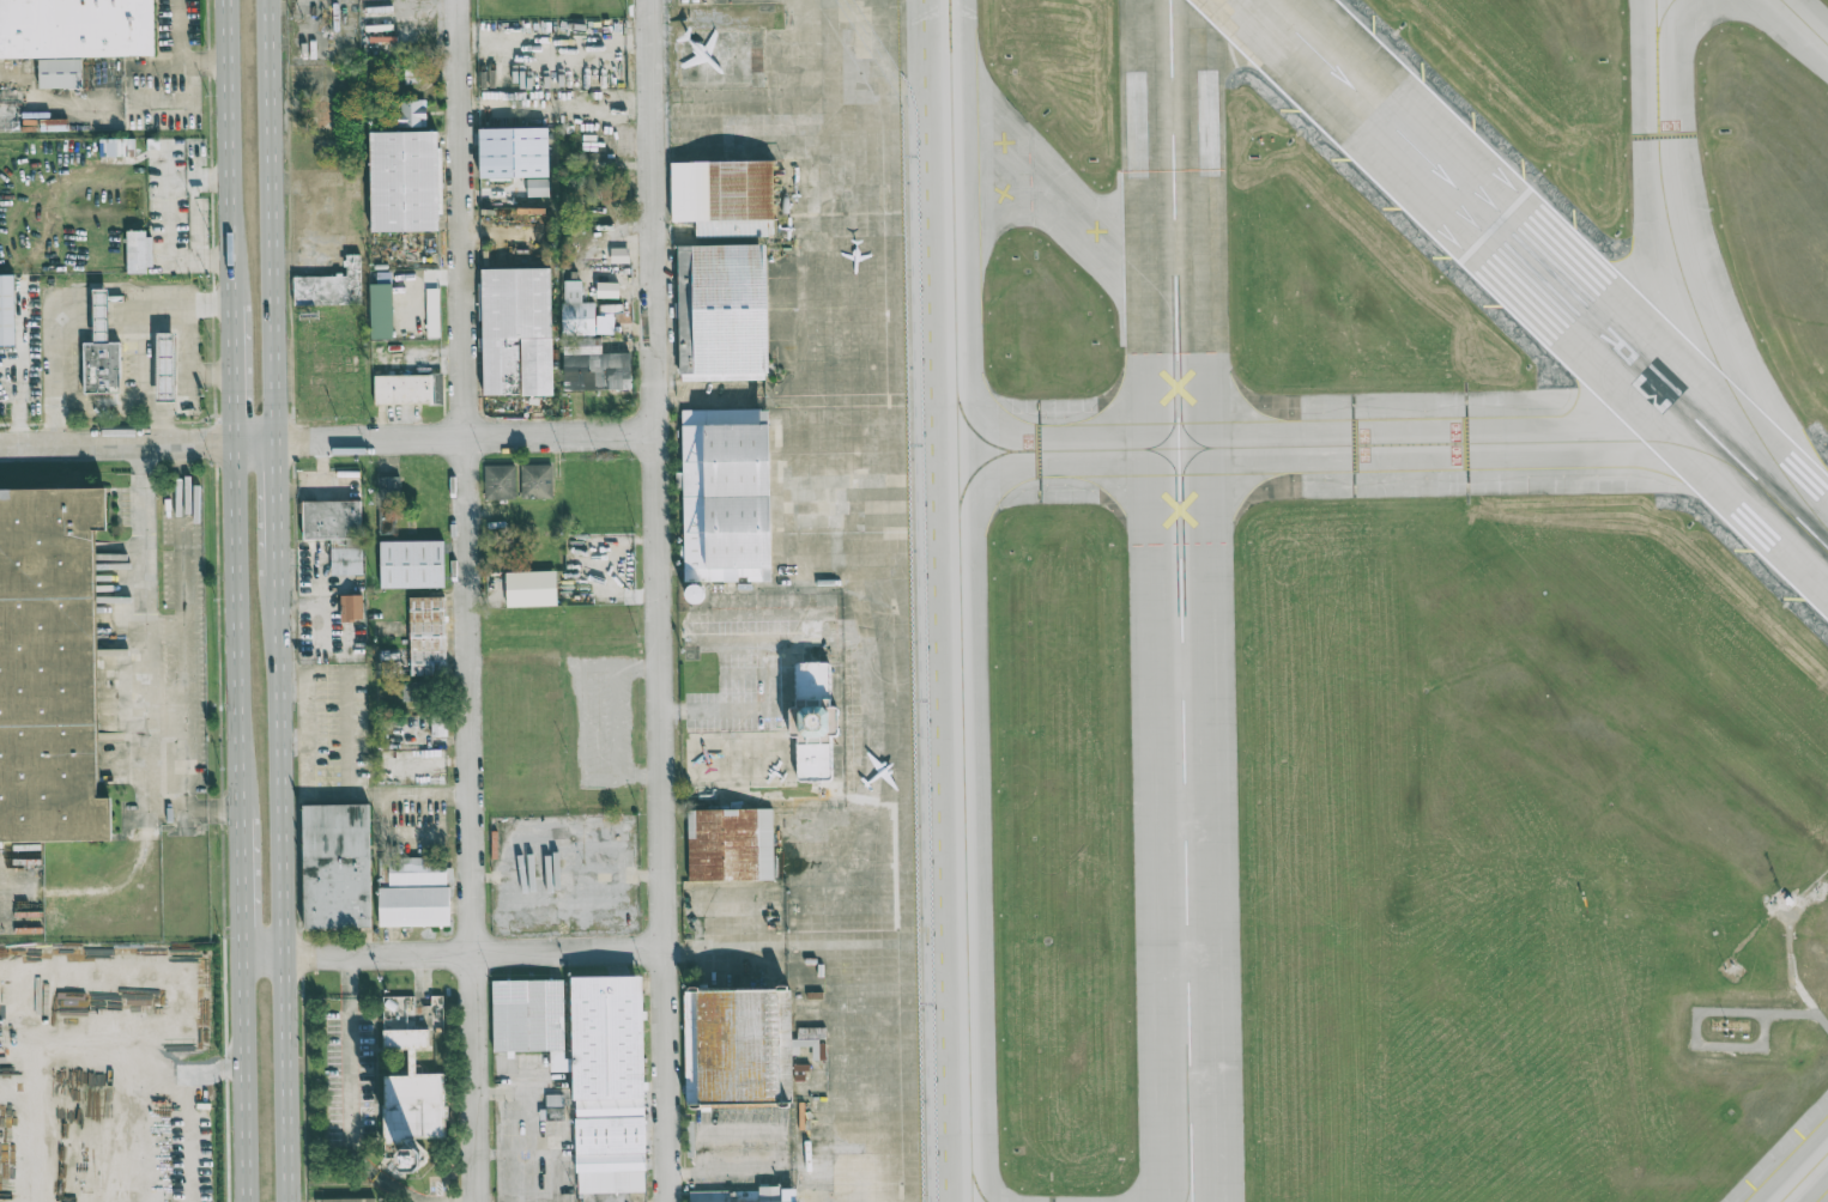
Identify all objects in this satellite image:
airport taxiway: (1661, 16)
airport taxiway: (1805, 22)
building: (78, 25)
road: (181, 55)
building: (62, 74)
building: (1205, 110)
airport runway: (1374, 111)
building: (410, 114)
building: (115, 146)
road: (229, 152)
building: (516, 156)
airport taxiway: (1036, 172)
building: (404, 181)
airport taxiway: (1661, 189)
building: (728, 196)
road: (273, 220)
building: (138, 251)
building: (619, 254)
building: (331, 286)
building: (607, 289)
road: (75, 291)
building: (6, 309)
building: (381, 310)
building: (576, 310)
building: (730, 311)
building: (432, 312)
building: (604, 323)
building: (516, 332)
building: (101, 352)
road: (141, 352)
building: (165, 365)
building: (593, 366)
road: (234, 374)
road: (188, 382)
airport runway: (1659, 386)
building: (408, 389)
road: (110, 409)
road: (479, 437)
road: (153, 443)
airport taxiway: (1351, 445)
building: (500, 481)
building: (535, 481)
building: (388, 487)
building: (738, 491)
road: (276, 506)
building: (335, 532)
building: (411, 564)
building: (531, 588)
airport apron: (870, 593)
building: (694, 594)
airport: (1249, 599)
airport taxiway: (961, 600)
airport runway: (1180, 600)
road: (466, 601)
road: (652, 601)
building: (351, 607)
road: (238, 631)
building: (426, 636)
road: (145, 656)
building: (50, 663)
road: (742, 670)
road: (192, 686)
building: (412, 691)
road: (749, 711)
airport terminal: (817, 720)
building: (817, 720)
road: (410, 793)
building: (736, 843)
building: (335, 866)
road: (282, 887)
road: (242, 890)
building: (414, 892)
road: (156, 936)
road: (485, 952)
road: (279, 958)
building: (399, 1021)
road: (346, 1034)
building: (405, 1037)
building: (742, 1048)
building: (587, 1067)
road: (244, 1080)
building: (553, 1106)
building: (413, 1115)
road: (781, 1148)
airport taxiway: (1803, 1176)
building: (753, 1196)
building: (349, 1200)

